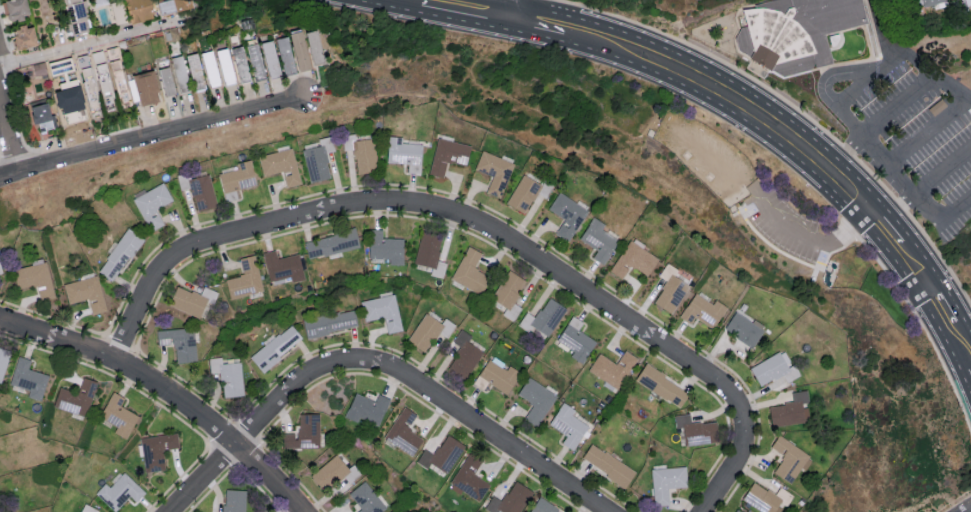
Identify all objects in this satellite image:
road: (518, 2)
building: (925, 2)
building: (967, 2)
building: (171, 5)
road: (387, 6)
building: (14, 8)
building: (137, 10)
building: (76, 16)
road: (515, 17)
road: (465, 20)
building: (795, 32)
building: (22, 35)
road: (554, 38)
road: (88, 46)
building: (313, 46)
building: (298, 49)
building: (284, 54)
road: (911, 56)
building: (269, 58)
building: (254, 61)
building: (239, 63)
building: (224, 65)
road: (702, 66)
building: (209, 68)
building: (194, 71)
building: (179, 73)
building: (166, 81)
building: (146, 87)
road: (852, 87)
building: (122, 89)
road: (824, 90)
building: (69, 110)
building: (40, 115)
road: (739, 116)
road: (876, 123)
road: (930, 129)
road: (153, 136)
road: (8, 139)
building: (361, 152)
building: (404, 152)
building: (448, 155)
building: (317, 159)
road: (942, 164)
building: (280, 165)
building: (494, 171)
road: (901, 176)
building: (236, 179)
building: (202, 192)
building: (523, 194)
road: (901, 200)
building: (152, 204)
road: (751, 205)
road: (885, 207)
road: (429, 209)
road: (870, 210)
building: (567, 215)
road: (940, 216)
road: (899, 223)
parking lot: (785, 224)
road: (804, 238)
building: (598, 239)
building: (331, 243)
building: (385, 247)
building: (429, 253)
building: (119, 254)
road: (889, 254)
road: (819, 256)
road: (922, 257)
road: (797, 259)
building: (633, 260)
building: (283, 266)
road: (827, 268)
building: (469, 270)
building: (35, 278)
building: (245, 279)
road: (925, 285)
building: (86, 292)
building: (509, 293)
building: (670, 293)
road: (948, 298)
building: (189, 301)
building: (702, 310)
building: (383, 311)
road: (927, 312)
building: (546, 317)
building: (329, 322)
road: (965, 327)
building: (744, 328)
building: (428, 331)
building: (575, 339)
building: (180, 344)
building: (275, 349)
road: (958, 349)
building: (464, 354)
building: (3, 360)
road: (956, 361)
building: (612, 368)
building: (774, 368)
building: (498, 373)
building: (228, 376)
building: (28, 378)
building: (661, 385)
road: (420, 387)
road: (166, 392)
building: (75, 397)
building: (536, 399)
building: (366, 408)
building: (788, 410)
building: (118, 415)
building: (567, 425)
building: (695, 429)
building: (403, 432)
building: (304, 433)
building: (156, 450)
building: (441, 454)
building: (788, 459)
building: (607, 464)
road: (731, 468)
building: (329, 471)
building: (470, 477)
road: (207, 479)
building: (666, 482)
building: (119, 491)
building: (366, 498)
building: (511, 498)
building: (763, 498)
building: (234, 500)
building: (542, 507)
building: (88, 508)
building: (736, 511)
road: (970, 511)

